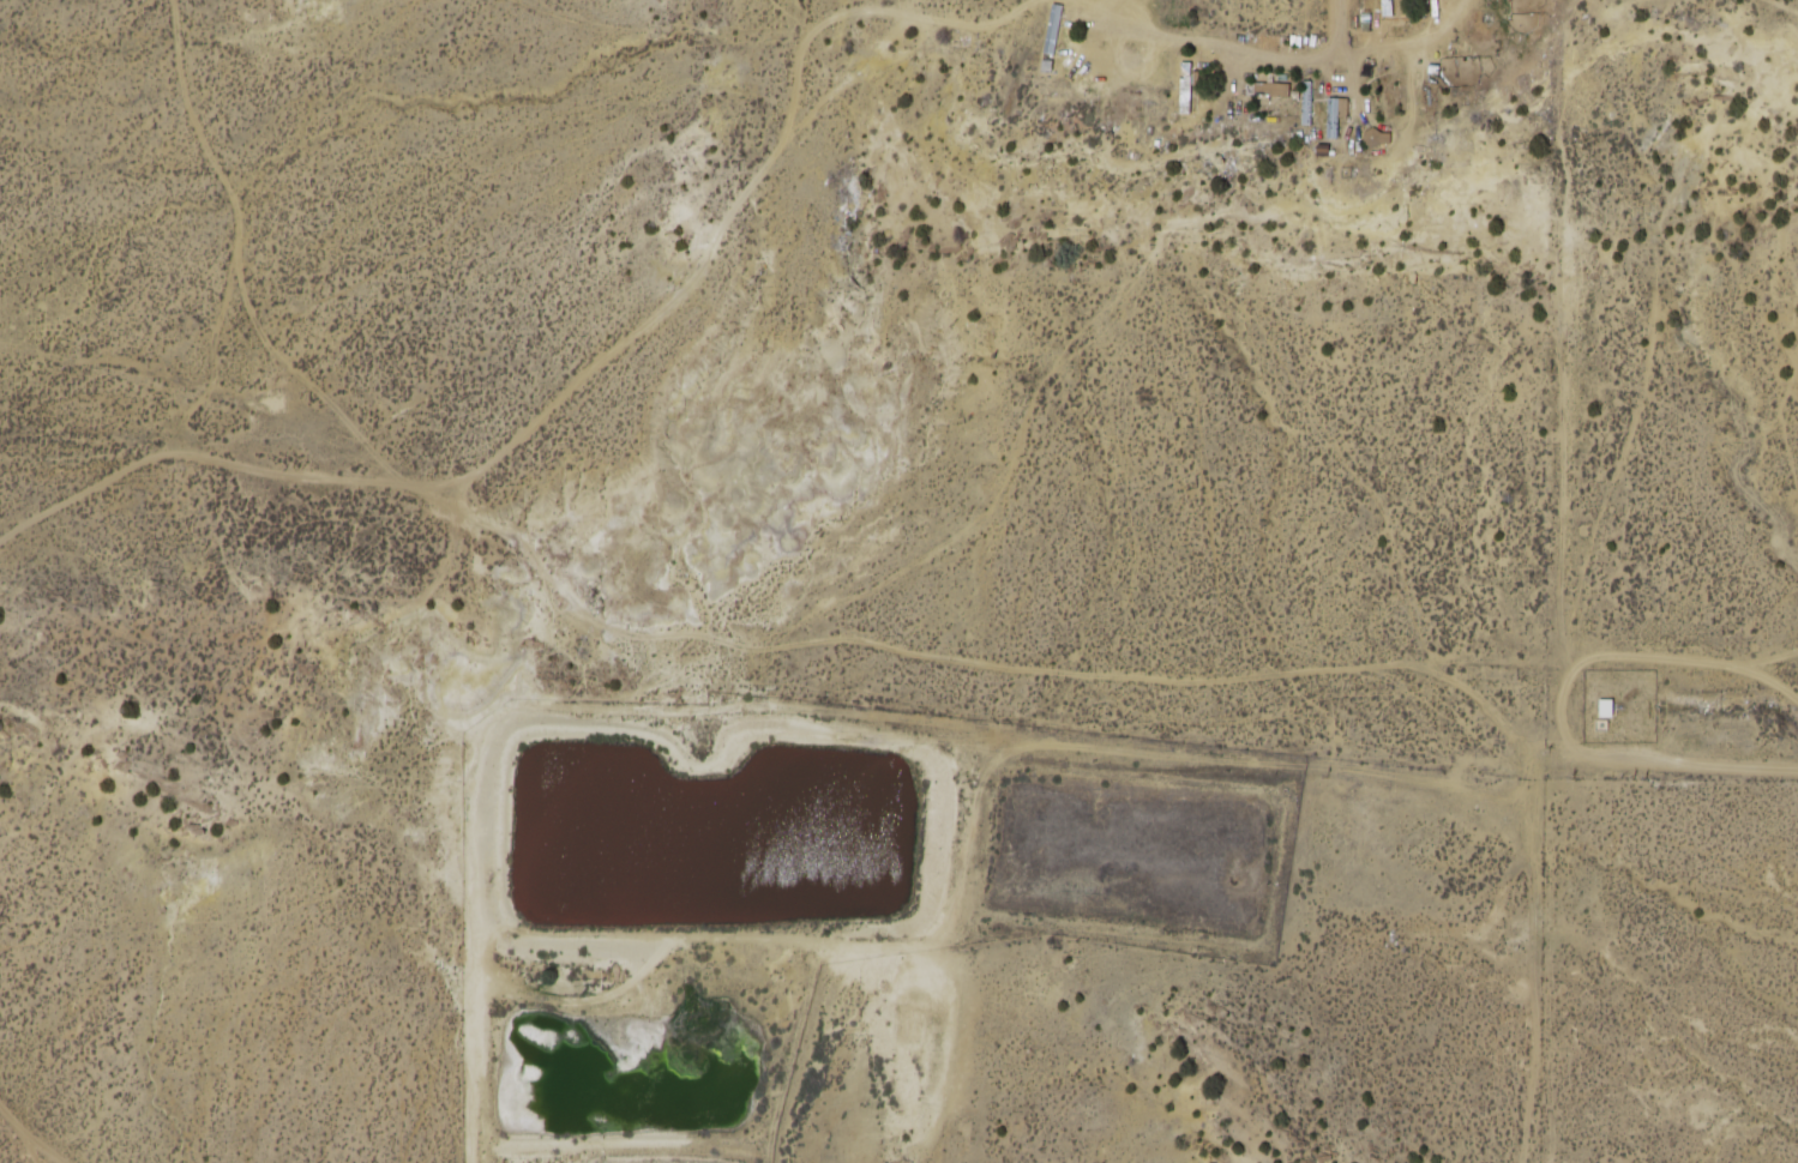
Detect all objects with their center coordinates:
road: (1222, 50)
road: (1349, 55)
road: (1363, 84)
road: (1571, 278)
road: (1722, 663)
road: (1578, 671)
road: (1550, 833)

